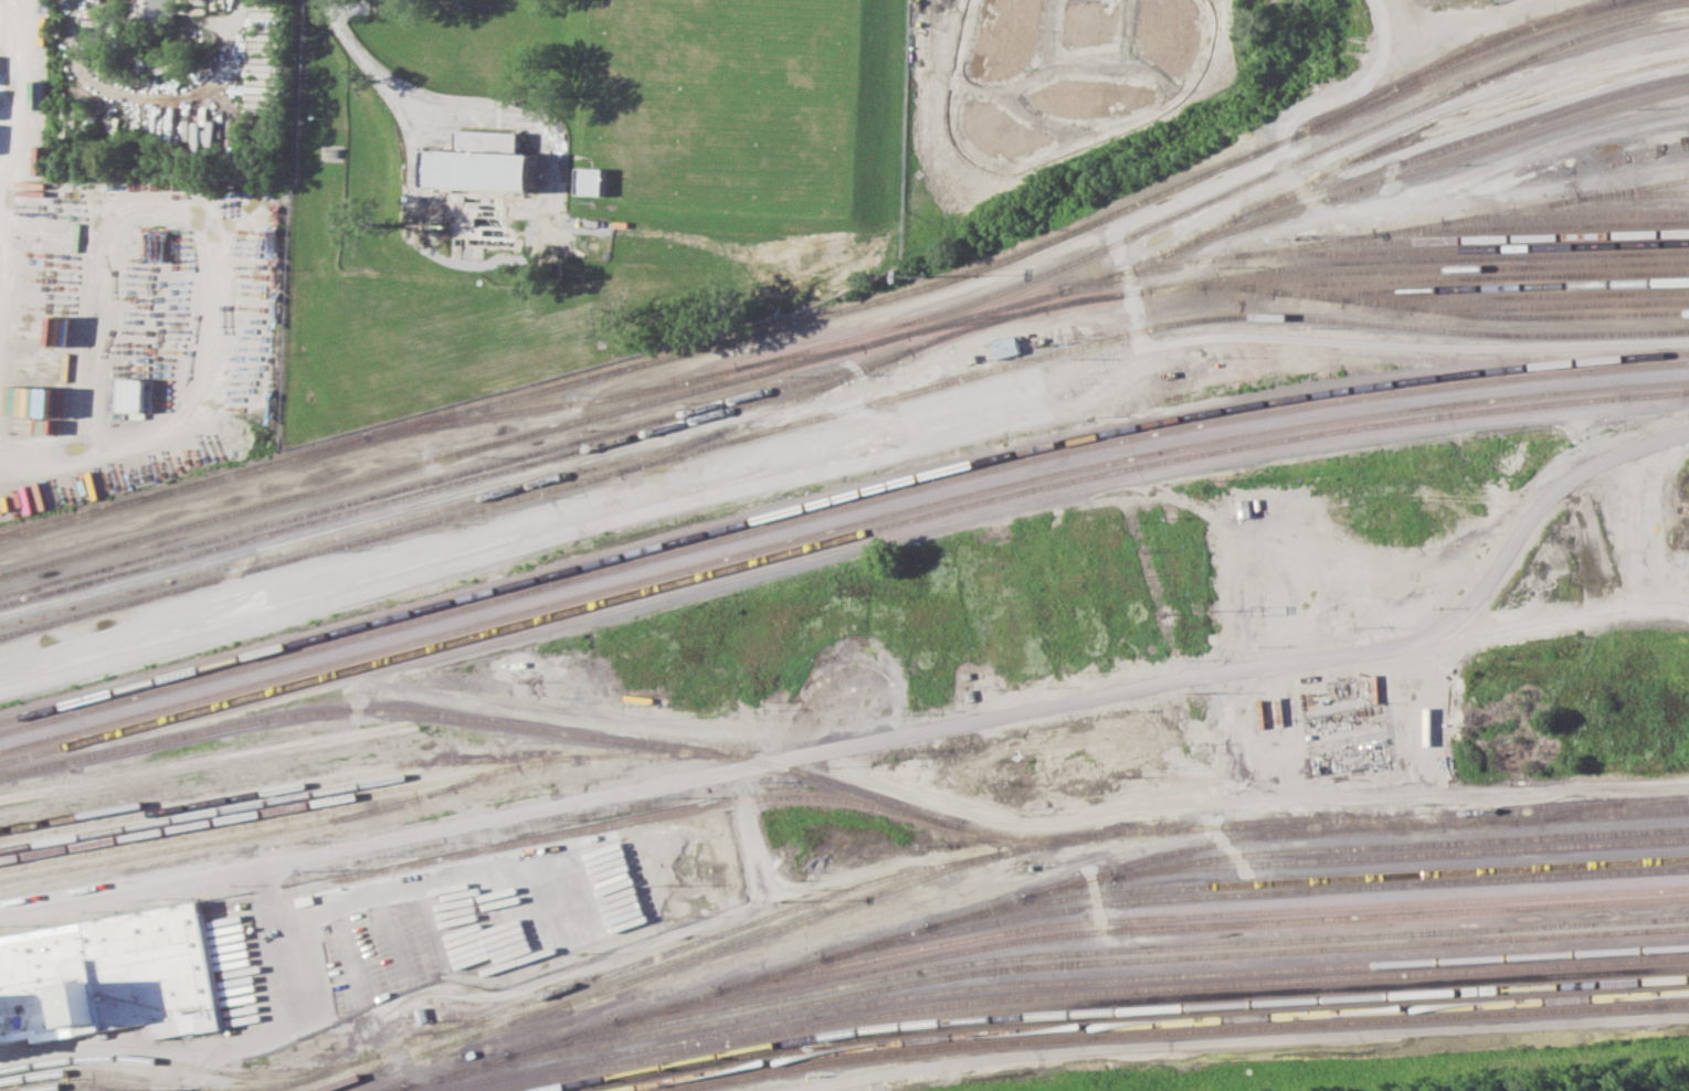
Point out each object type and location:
railway: (1619, 1)
road: (1382, 11)
building: (150, 12)
railway: (1576, 49)
railway: (1470, 50)
road: (391, 84)
railway: (1522, 103)
road: (1312, 116)
railway: (1464, 141)
building: (485, 161)
railway: (1432, 165)
building: (594, 180)
railway: (1646, 193)
railway: (1611, 204)
railway: (1584, 214)
railway: (1550, 225)
railway: (1386, 232)
railway: (1516, 236)
railway: (1478, 247)
railway: (1426, 259)
railway: (1136, 268)
railway: (1468, 268)
railway: (1044, 274)
railway: (1460, 279)
road: (1130, 287)
railway: (1499, 288)
railway: (1134, 293)
railway: (1526, 296)
railway: (1031, 305)
railway: (1563, 305)
railway: (857, 307)
railway: (1457, 332)
building: (1009, 346)
building: (138, 394)
railway: (612, 473)
railway: (453, 475)
railway: (423, 492)
railway: (836, 498)
railway: (279, 501)
railway: (836, 509)
railway: (836, 528)
railway: (357, 531)
railway: (836, 538)
road: (1562, 621)
road: (884, 741)
railway: (367, 783)
railway: (842, 785)
railway: (220, 790)
railway: (257, 793)
road: (1245, 801)
railway: (293, 806)
railway: (1561, 812)
railway: (1390, 822)
railway: (258, 824)
railway: (1352, 828)
railway: (572, 834)
railway: (228, 839)
railway: (1045, 844)
railway: (1401, 845)
railway: (1306, 861)
railway: (1254, 883)
railway: (1200, 896)
railway: (1147, 918)
railway: (771, 930)
railway: (1095, 932)
railway: (1042, 954)
railway: (1037, 965)
building: (105, 978)
railway: (1055, 983)
railway: (1081, 993)
railway: (507, 1008)
railway: (1115, 1011)
railway: (498, 1018)
railway: (1152, 1023)
railway: (1181, 1032)
railway: (443, 1047)
railway: (187, 1067)
railway: (103, 1072)
park: (1572, 1073)
park: (1279, 1088)

